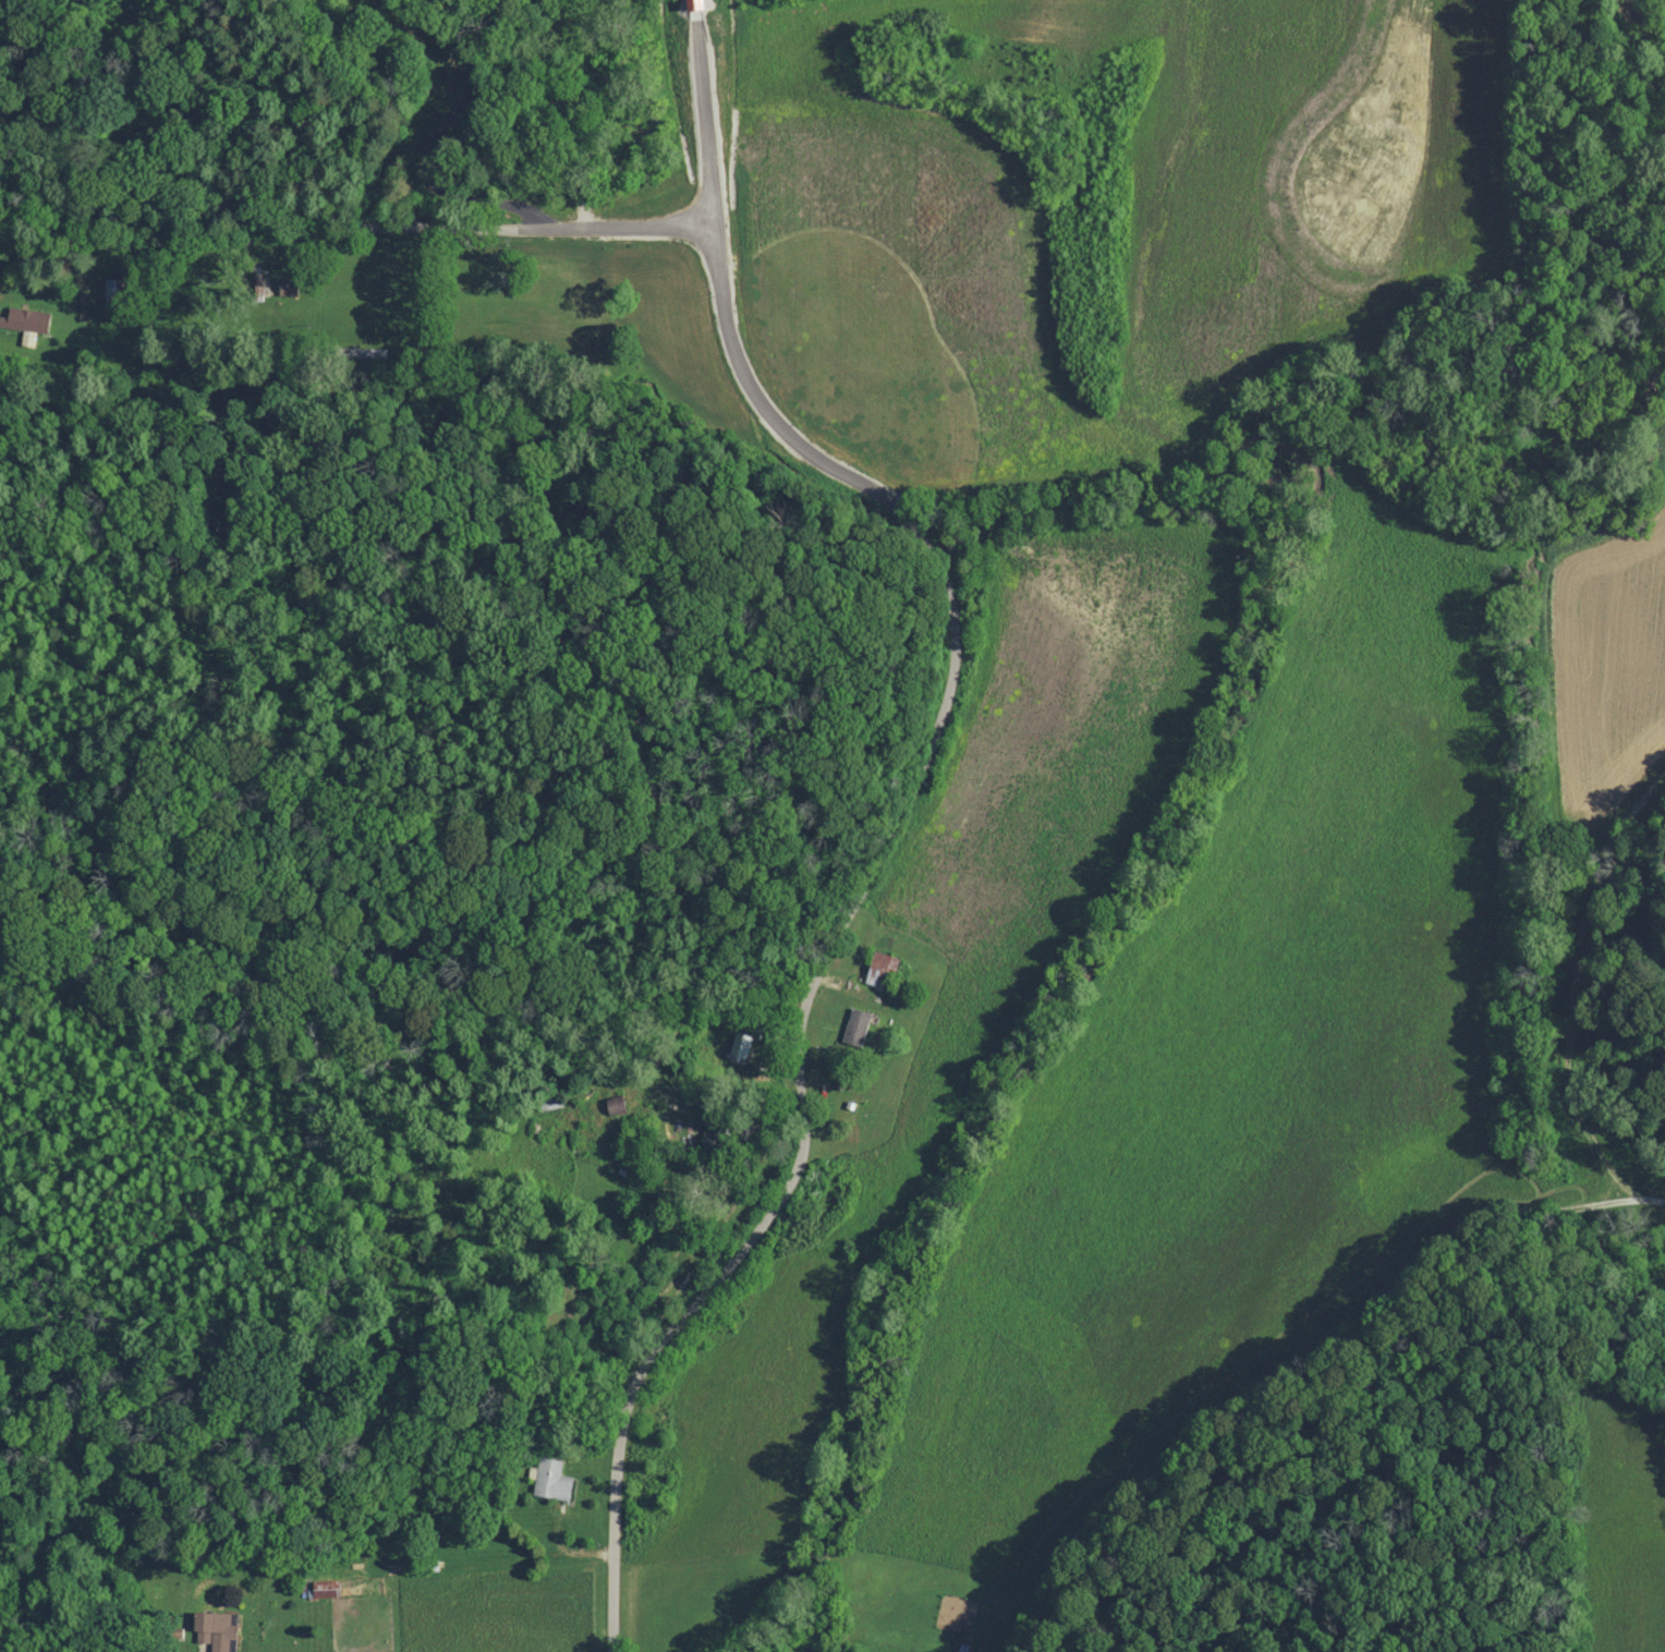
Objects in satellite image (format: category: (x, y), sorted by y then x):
building: (696, 3)
road: (697, 9)
river: (1656, 13)
road: (705, 122)
road: (428, 146)
road: (355, 228)
building: (289, 287)
road: (423, 288)
building: (27, 323)
road: (847, 915)
building: (883, 970)
building: (858, 1027)
building: (742, 1045)
road: (1301, 1361)
building: (552, 1480)
building: (326, 1589)
building: (219, 1630)

